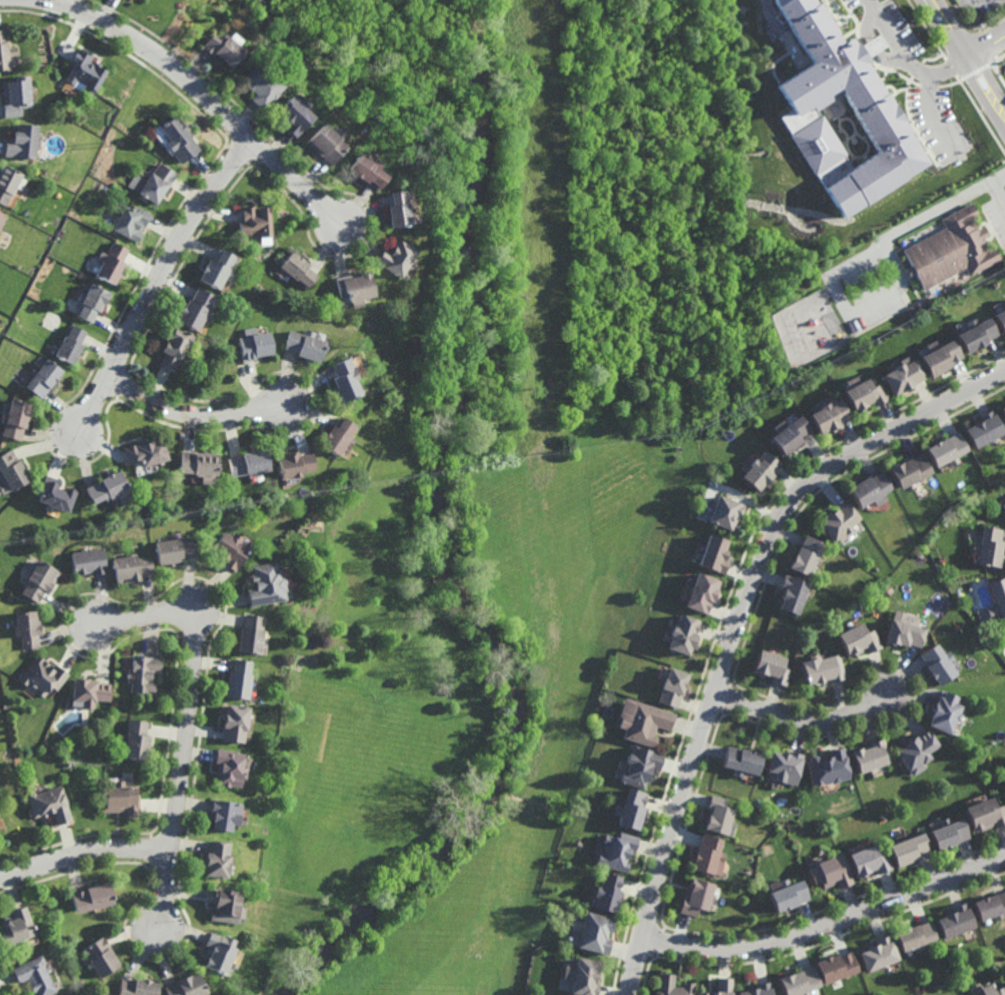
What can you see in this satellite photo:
road: (986, 42)
building: (872, 45)
building: (222, 47)
building: (3, 52)
road: (968, 57)
road: (906, 58)
building: (84, 72)
building: (262, 85)
road: (208, 95)
building: (16, 96)
building: (842, 111)
building: (294, 116)
road: (934, 116)
building: (177, 139)
power tower: (104, 140)
building: (22, 141)
building: (326, 143)
building: (368, 170)
building: (158, 182)
building: (8, 184)
building: (397, 208)
building: (2, 221)
building: (255, 221)
building: (132, 222)
building: (952, 249)
building: (395, 258)
building: (112, 262)
building: (218, 268)
building: (295, 269)
road: (159, 282)
building: (355, 287)
building: (92, 301)
building: (927, 302)
building: (1004, 304)
building: (920, 305)
building: (197, 309)
building: (1000, 320)
power tower: (5, 334)
building: (978, 336)
building: (71, 343)
building: (304, 344)
building: (255, 345)
building: (175, 348)
building: (942, 358)
building: (44, 377)
building: (906, 378)
building: (344, 379)
building: (865, 396)
building: (1003, 408)
building: (1003, 412)
road: (193, 413)
building: (831, 418)
building: (16, 419)
building: (986, 432)
building: (337, 435)
building: (790, 437)
building: (147, 452)
building: (950, 453)
building: (249, 462)
building: (200, 464)
building: (295, 464)
building: (12, 471)
building: (758, 473)
building: (911, 475)
building: (109, 489)
building: (872, 494)
building: (55, 495)
building: (259, 505)
building: (1004, 509)
building: (1004, 512)
building: (722, 518)
building: (841, 526)
building: (175, 547)
building: (232, 548)
building: (989, 550)
building: (713, 559)
building: (91, 560)
building: (808, 560)
building: (133, 566)
building: (41, 579)
building: (267, 584)
building: (696, 588)
building: (789, 592)
building: (997, 598)
building: (679, 628)
building: (903, 628)
building: (29, 629)
road: (745, 629)
building: (251, 635)
building: (855, 635)
building: (936, 660)
building: (767, 662)
building: (818, 664)
building: (143, 673)
building: (44, 676)
building: (239, 680)
building: (668, 682)
building: (89, 692)
building: (943, 709)
building: (641, 720)
building: (234, 722)
road: (188, 723)
road: (806, 723)
building: (134, 740)
building: (914, 749)
building: (868, 753)
building: (740, 757)
building: (636, 763)
building: (779, 764)
building: (825, 765)
building: (228, 767)
building: (117, 798)
building: (49, 803)
building: (628, 806)
building: (222, 813)
building: (716, 813)
building: (984, 813)
building: (947, 832)
building: (907, 848)
building: (613, 849)
road: (83, 852)
building: (705, 852)
building: (215, 858)
building: (866, 860)
building: (829, 871)
building: (603, 892)
building: (783, 893)
building: (694, 896)
building: (91, 897)
building: (223, 904)
building: (991, 906)
building: (955, 920)
road: (830, 923)
building: (17, 926)
building: (588, 933)
building: (914, 936)
building: (217, 952)
building: (877, 954)
building: (102, 956)
building: (833, 967)
building: (36, 975)
building: (580, 977)
building: (796, 982)
building: (186, 986)
building: (670, 986)
building: (137, 987)
building: (721, 987)
building: (756, 990)
building: (990, 990)

